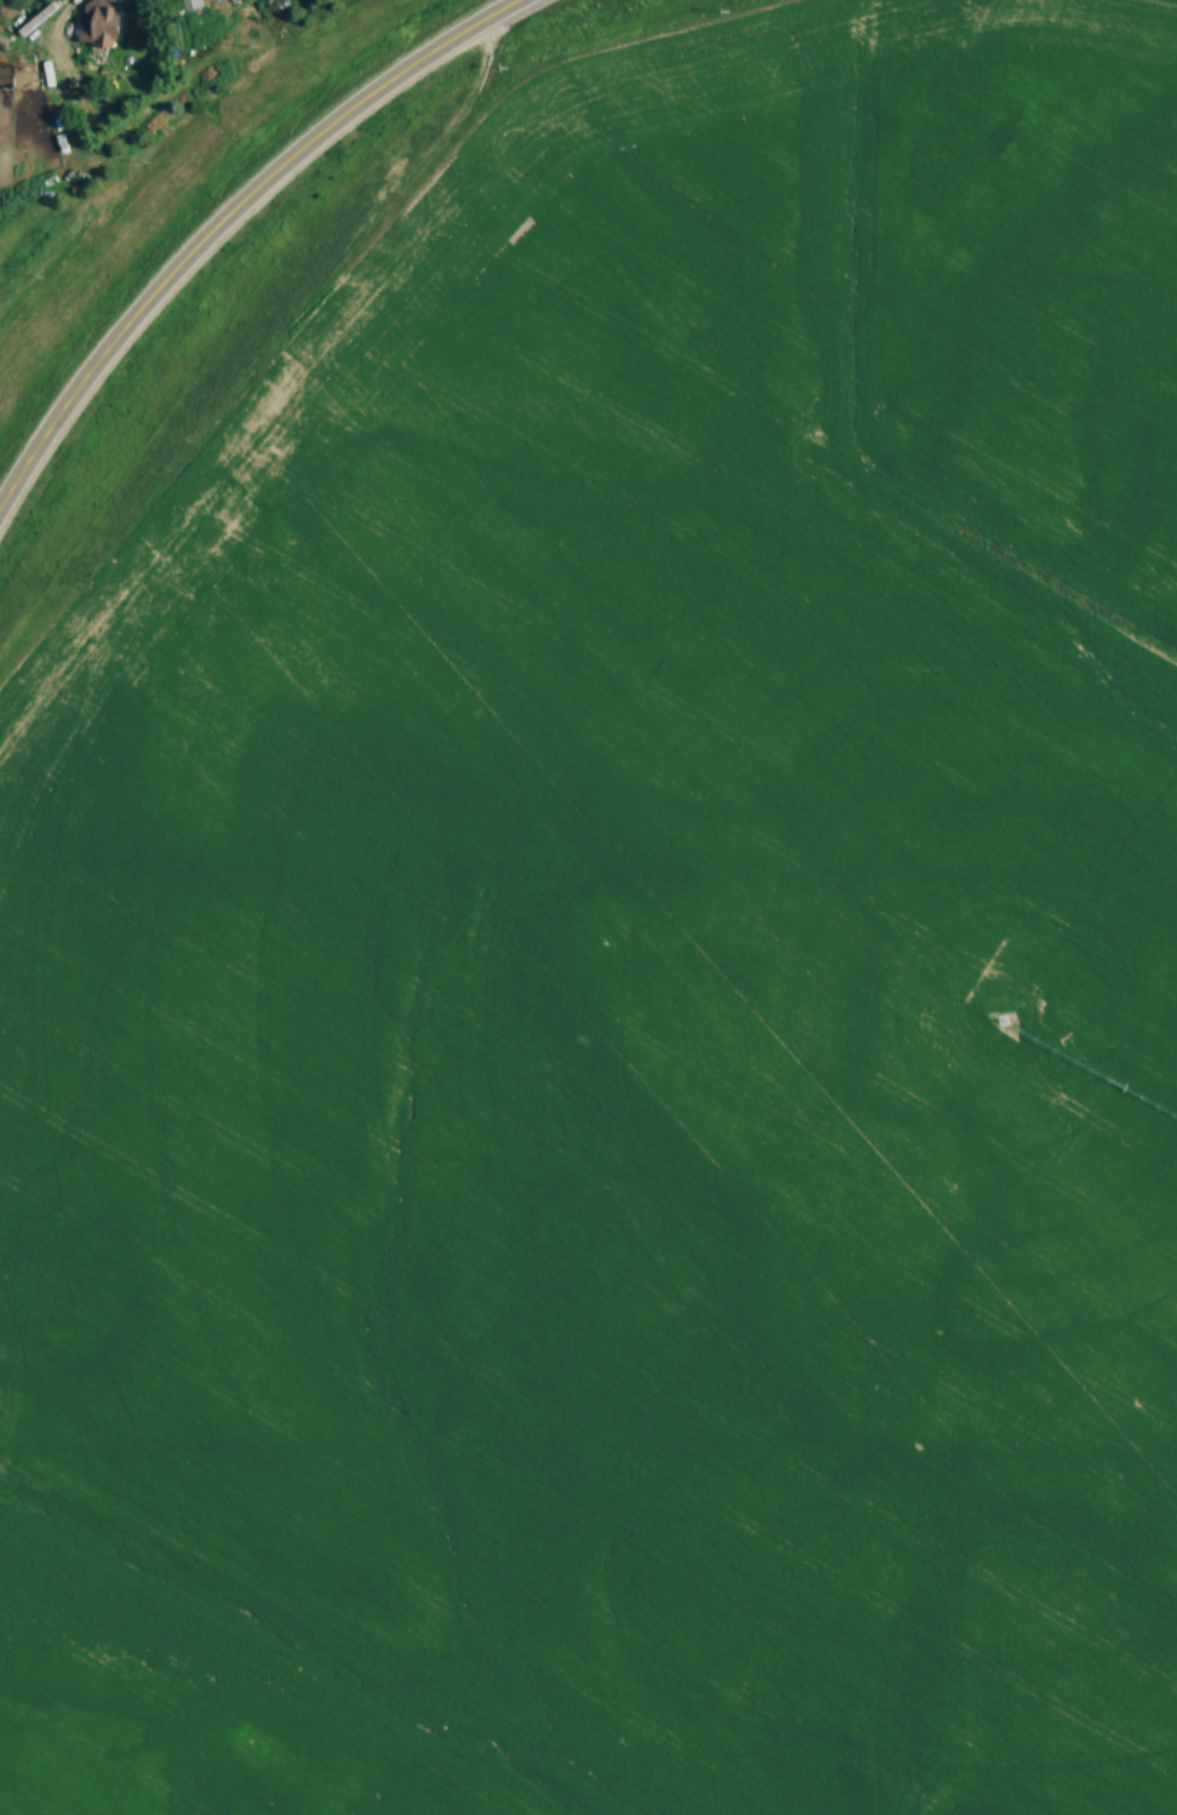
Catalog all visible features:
building: (193, 4)
building: (107, 23)
road: (235, 229)

